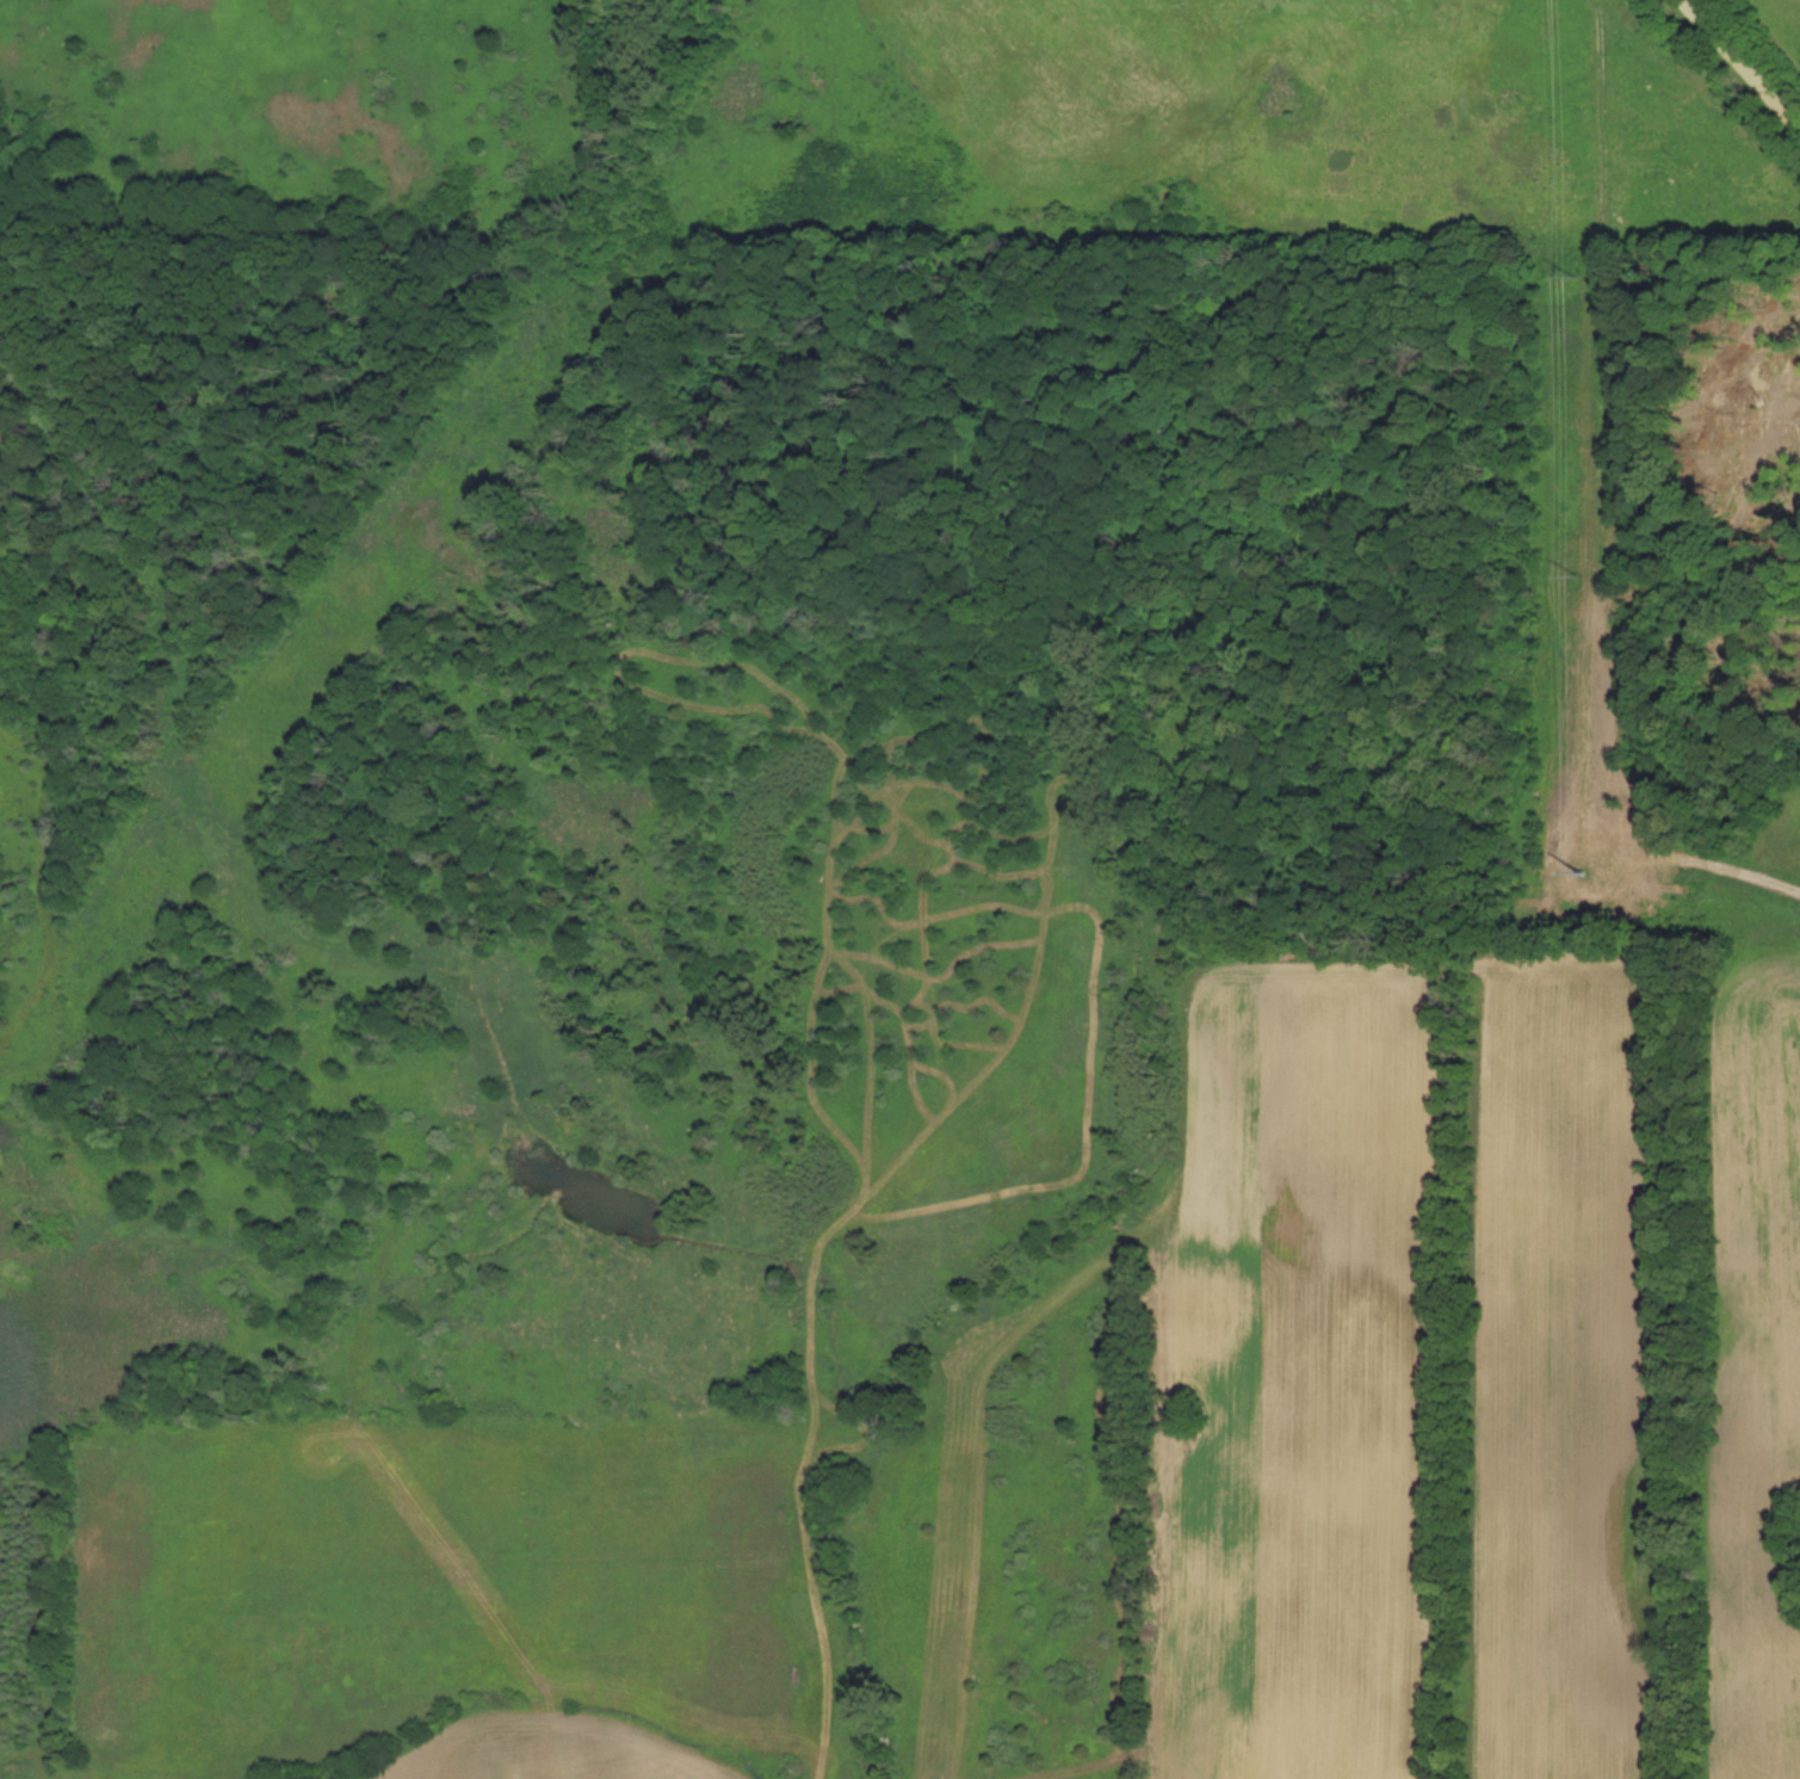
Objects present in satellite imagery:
road: (1738, 62)

